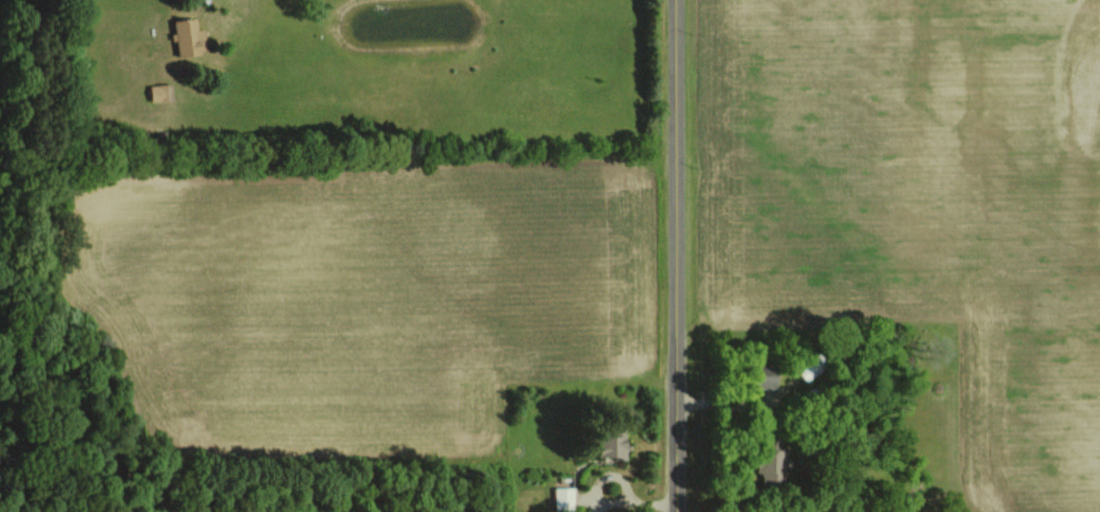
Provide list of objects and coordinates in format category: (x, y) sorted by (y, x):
building: (189, 37)
building: (162, 92)
road: (674, 255)
building: (770, 380)
building: (614, 446)
building: (774, 465)
building: (565, 499)

